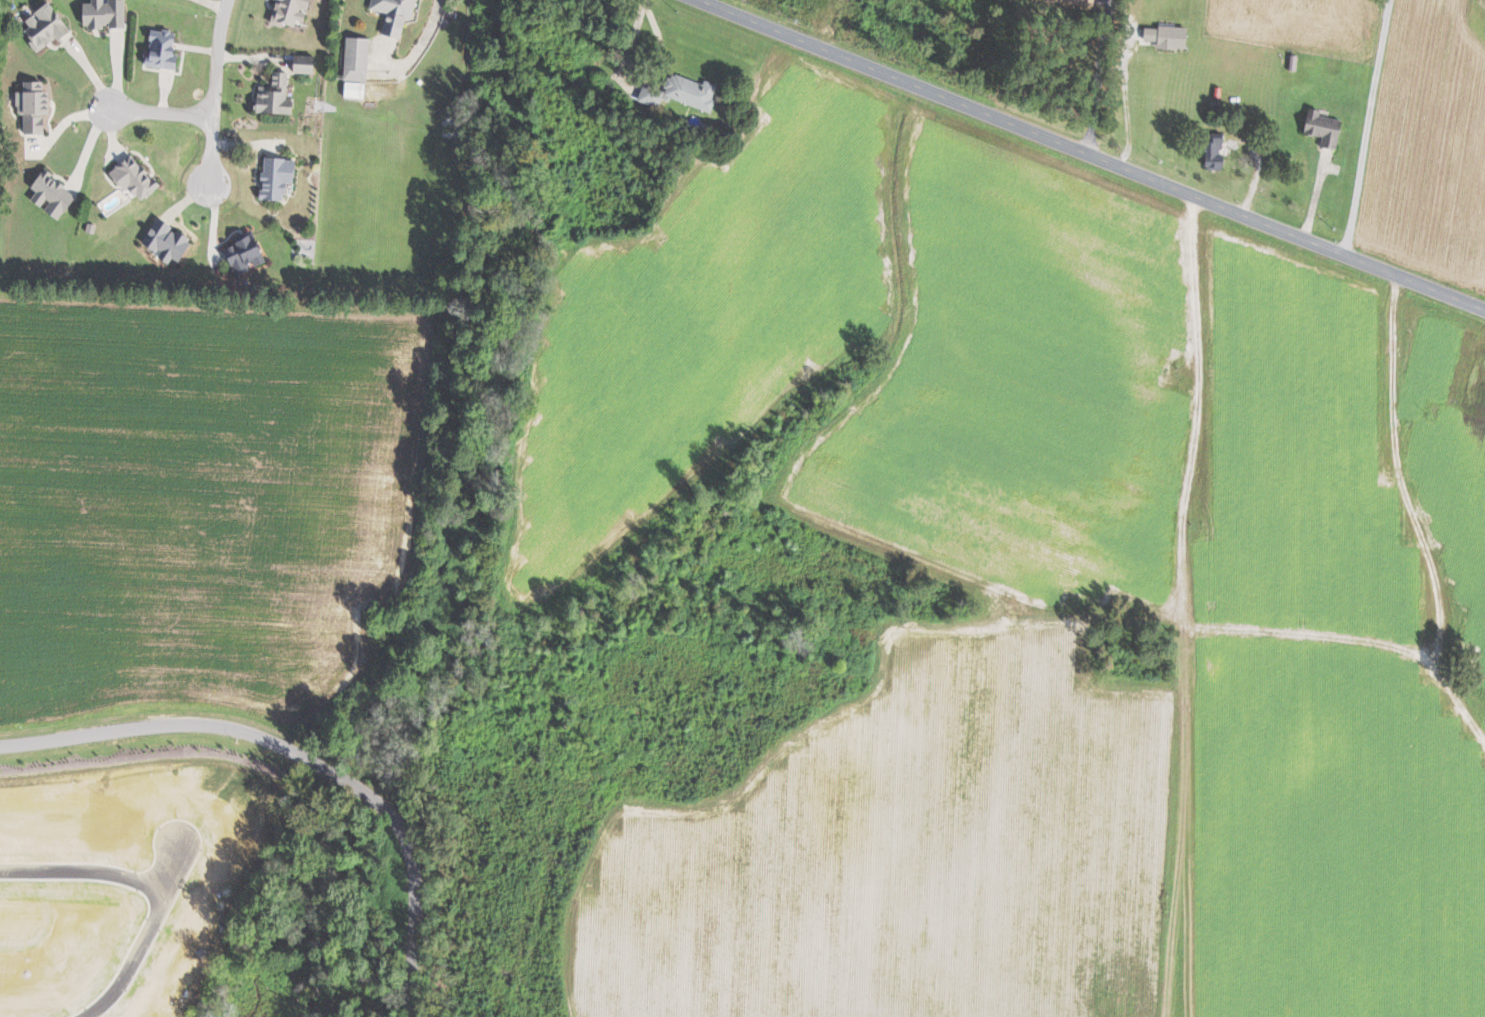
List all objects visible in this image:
building: (1065, 1)
building: (295, 12)
building: (108, 14)
building: (398, 14)
building: (48, 27)
building: (1171, 37)
road: (419, 48)
building: (167, 51)
building: (359, 59)
building: (309, 65)
road: (1100, 78)
road: (645, 79)
building: (358, 90)
road: (214, 92)
building: (697, 93)
building: (655, 95)
building: (278, 96)
building: (37, 107)
road: (1131, 109)
road: (161, 113)
road: (65, 120)
building: (1326, 128)
road: (1366, 128)
building: (1218, 153)
road: (1088, 157)
building: (137, 177)
building: (281, 178)
building: (56, 195)
building: (171, 241)
building: (250, 254)
building: (1036, 606)
road: (303, 765)
road: (86, 869)
road: (153, 936)

